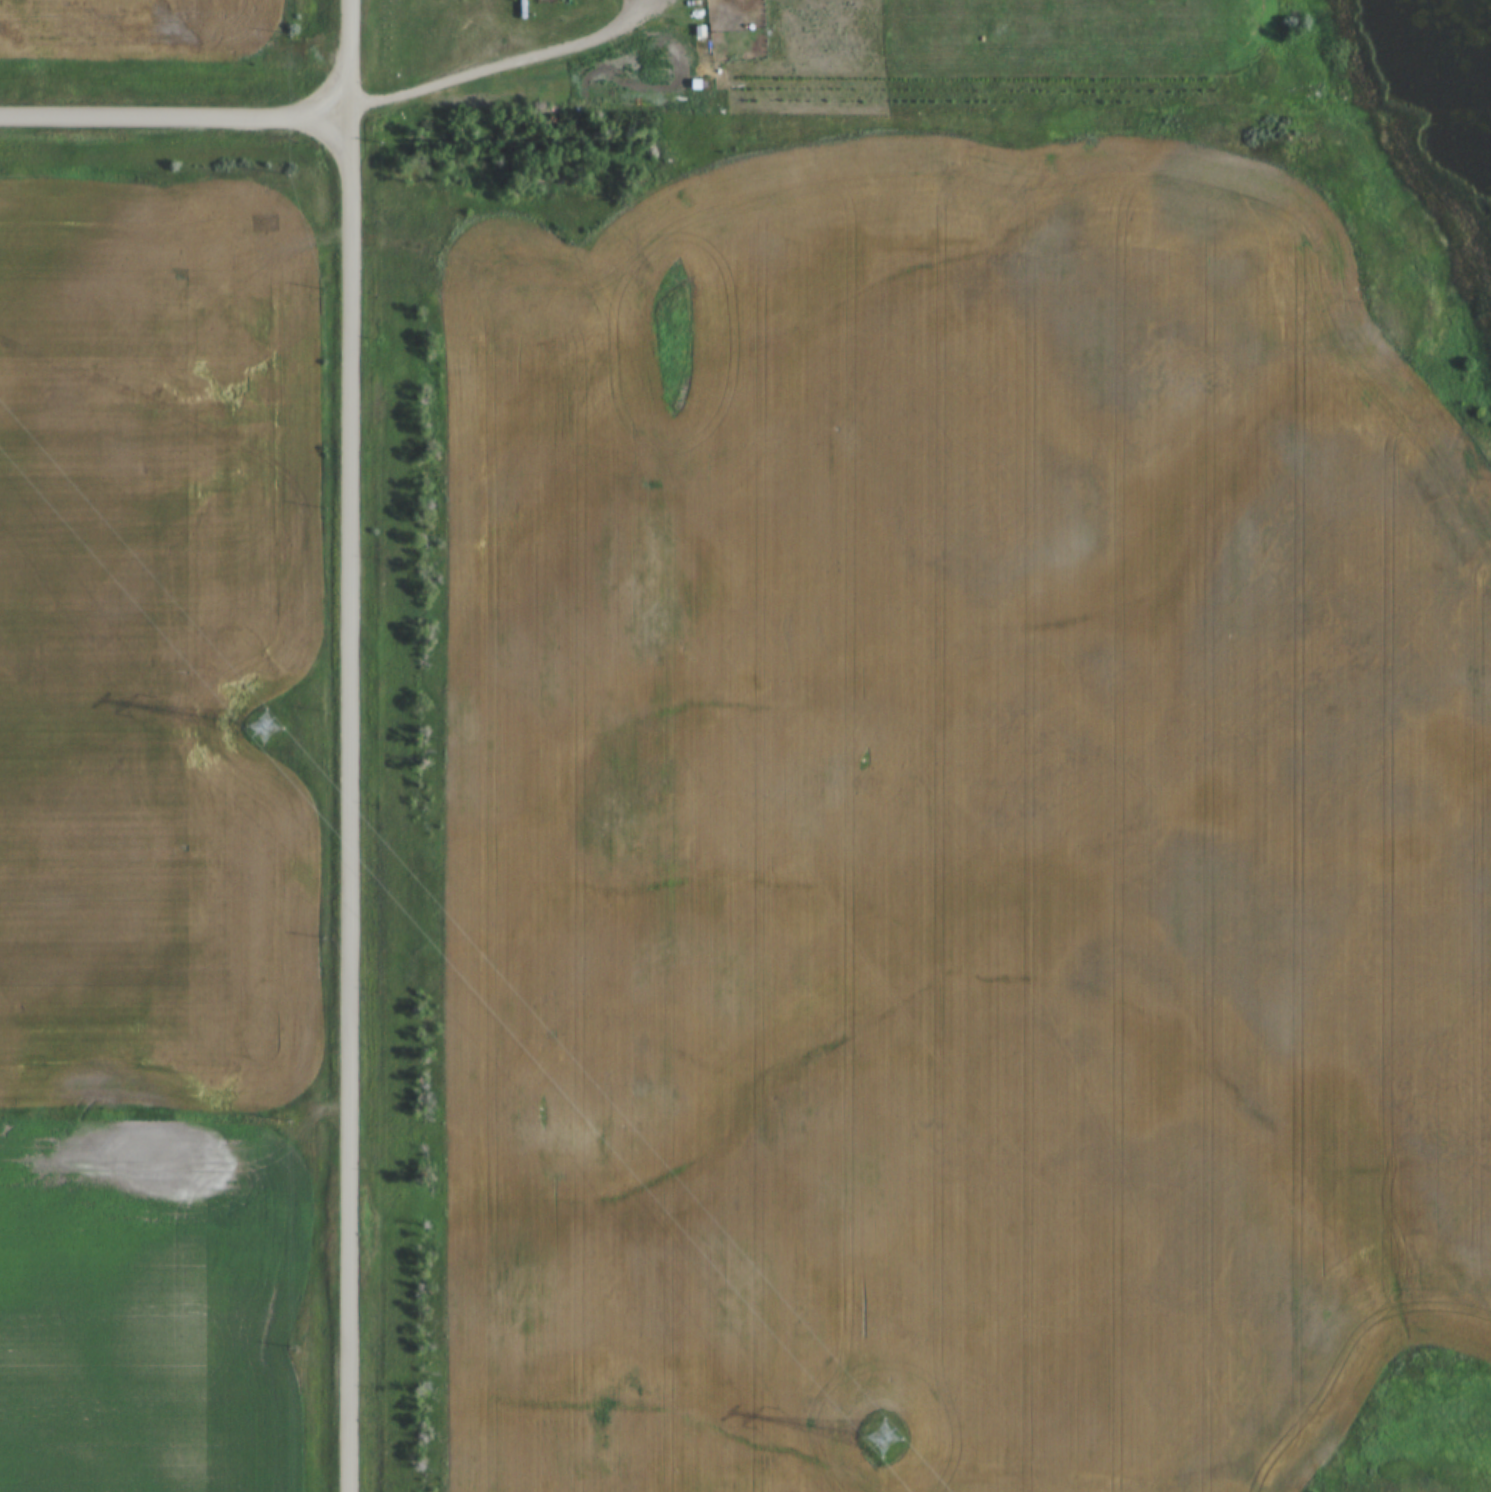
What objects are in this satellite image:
road: (189, 118)
road: (322, 134)
power tower: (274, 734)
road: (349, 746)
power tower: (892, 1443)

